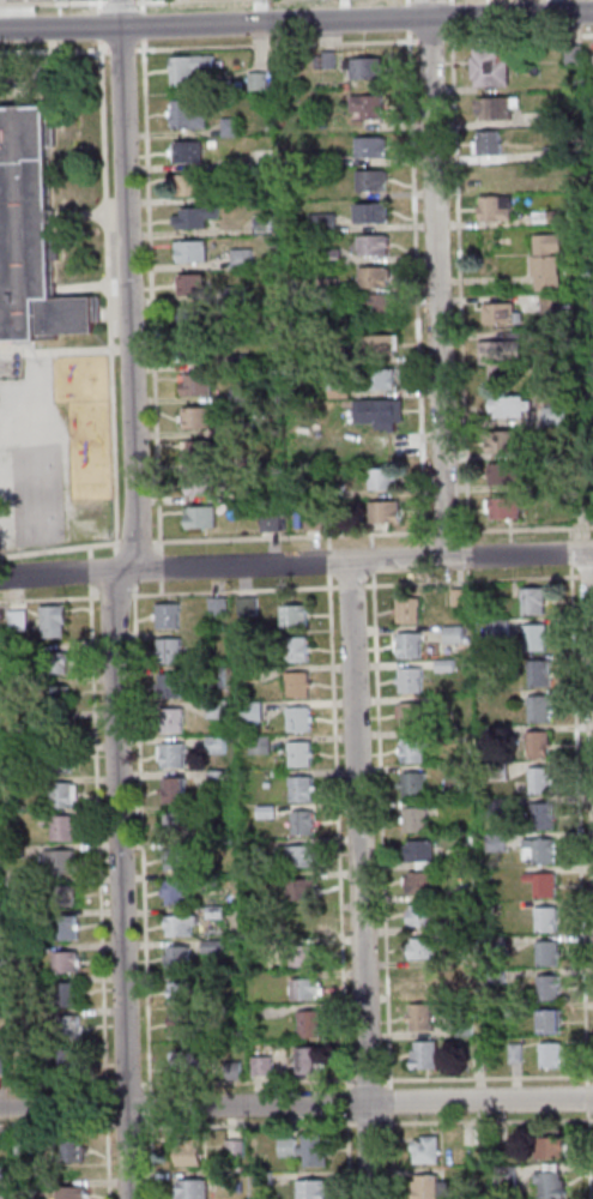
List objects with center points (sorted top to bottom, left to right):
road: (159, 0)
road: (448, 0)
road: (53, 1)
road: (120, 1)
road: (405, 1)
road: (96, 5)
road: (141, 5)
road: (119, 13)
road: (449, 16)
road: (406, 17)
road: (296, 20)
road: (96, 25)
road: (141, 25)
road: (53, 34)
road: (519, 36)
road: (429, 38)
road: (276, 44)
road: (123, 49)
road: (54, 50)
building: (571, 55)
building: (323, 60)
building: (489, 67)
building: (363, 68)
building: (188, 71)
road: (30, 79)
building: (255, 80)
road: (19, 101)
building: (367, 107)
building: (495, 108)
building: (186, 115)
building: (552, 119)
building: (229, 127)
building: (486, 144)
building: (369, 147)
building: (552, 151)
building: (186, 152)
building: (325, 159)
building: (488, 175)
building: (370, 180)
building: (188, 186)
building: (495, 209)
building: (371, 212)
road: (86, 215)
building: (194, 217)
building: (547, 217)
building: (321, 223)
building: (262, 224)
building: (30, 235)
building: (373, 245)
building: (189, 251)
building: (331, 257)
building: (241, 259)
building: (545, 261)
building: (374, 277)
road: (436, 277)
building: (190, 285)
road: (417, 285)
road: (460, 285)
building: (326, 287)
building: (235, 295)
road: (107, 296)
road: (151, 296)
road: (128, 299)
building: (380, 305)
building: (551, 306)
building: (500, 313)
building: (193, 318)
building: (236, 329)
building: (544, 336)
building: (381, 345)
building: (195, 351)
building: (500, 355)
building: (236, 361)
building: (380, 379)
building: (195, 385)
building: (337, 390)
building: (237, 394)
building: (506, 406)
building: (377, 414)
building: (551, 415)
building: (195, 418)
building: (240, 427)
building: (502, 441)
building: (546, 448)
building: (198, 451)
building: (248, 463)
building: (503, 475)
building: (382, 480)
building: (200, 484)
building: (334, 492)
park: (35, 493)
building: (503, 508)
building: (383, 512)
building: (200, 518)
building: (268, 522)
building: (313, 522)
road: (526, 528)
road: (446, 530)
road: (291, 535)
road: (371, 540)
road: (135, 541)
road: (328, 541)
road: (60, 548)
road: (470, 548)
road: (425, 549)
road: (89, 550)
road: (371, 559)
road: (568, 559)
road: (328, 560)
road: (296, 564)
road: (159, 567)
road: (125, 570)
road: (90, 571)
road: (586, 576)
road: (471, 580)
road: (350, 585)
road: (159, 588)
road: (232, 590)
road: (113, 597)
building: (456, 597)
road: (48, 598)
building: (531, 601)
road: (591, 604)
building: (216, 605)
building: (246, 607)
building: (406, 610)
building: (167, 616)
building: (292, 616)
building: (16, 620)
building: (52, 621)
building: (496, 628)
building: (452, 634)
building: (533, 638)
building: (407, 646)
building: (168, 651)
building: (292, 651)
building: (54, 663)
building: (442, 665)
building: (4, 670)
building: (538, 673)
building: (247, 674)
building: (212, 677)
building: (409, 680)
building: (296, 685)
building: (168, 686)
building: (55, 697)
building: (537, 709)
building: (214, 710)
building: (250, 712)
building: (410, 715)
building: (297, 719)
building: (170, 721)
building: (52, 728)
building: (495, 735)
building: (258, 745)
building: (535, 745)
building: (213, 746)
building: (411, 751)
building: (8, 752)
building: (298, 754)
building: (171, 755)
building: (466, 755)
building: (54, 761)
building: (495, 771)
building: (217, 779)
building: (538, 781)
building: (265, 784)
building: (412, 785)
building: (299, 789)
building: (173, 790)
building: (59, 795)
building: (495, 807)
building: (264, 813)
building: (540, 817)
building: (412, 820)
building: (301, 823)
building: (174, 825)
road: (576, 825)
building: (58, 827)
road: (381, 829)
road: (337, 831)
road: (96, 838)
road: (141, 840)
building: (467, 840)
building: (495, 843)
building: (253, 848)
building: (12, 851)
building: (417, 851)
building: (537, 851)
building: (298, 856)
building: (175, 860)
building: (59, 861)
building: (485, 874)
building: (201, 879)
road: (358, 880)
building: (418, 882)
building: (13, 885)
road: (119, 885)
building: (540, 885)
building: (299, 891)
building: (464, 892)
building: (174, 893)
building: (63, 897)
building: (212, 912)
building: (425, 915)
building: (16, 920)
building: (544, 920)
building: (303, 922)
building: (178, 926)
building: (65, 928)
building: (212, 946)
building: (494, 946)
building: (422, 950)
building: (18, 952)
building: (546, 953)
building: (301, 956)
building: (176, 958)
building: (63, 962)
building: (494, 977)
building: (420, 982)
building: (546, 988)
building: (302, 989)
building: (66, 993)
building: (180, 993)
building: (512, 1011)
building: (418, 1018)
building: (547, 1022)
building: (178, 1025)
building: (308, 1025)
building: (66, 1029)
building: (461, 1030)
building: (513, 1053)
building: (549, 1055)
building: (422, 1056)
building: (308, 1061)
building: (66, 1062)
building: (188, 1064)
building: (0, 1066)
building: (260, 1066)
building: (231, 1071)
building: (29, 1072)
road: (486, 1077)
road: (367, 1079)
road: (244, 1083)
road: (54, 1084)
road: (125, 1084)
road: (586, 1097)
road: (389, 1099)
road: (103, 1104)
road: (150, 1104)
road: (296, 1104)
street lamp: (144, 1122)
road: (296, 1122)
road: (347, 1143)
building: (22, 1144)
building: (234, 1146)
building: (304, 1147)
building: (547, 1147)
building: (73, 1151)
building: (425, 1151)
building: (188, 1153)
road: (587, 1153)
road: (151, 1156)
road: (389, 1156)
road: (105, 1158)
building: (2, 1173)
building: (264, 1175)
building: (503, 1177)
building: (549, 1186)
building: (426, 1187)
building: (192, 1188)
building: (311, 1188)
building: (24, 1189)
building: (72, 1192)
building: (1, 1197)

